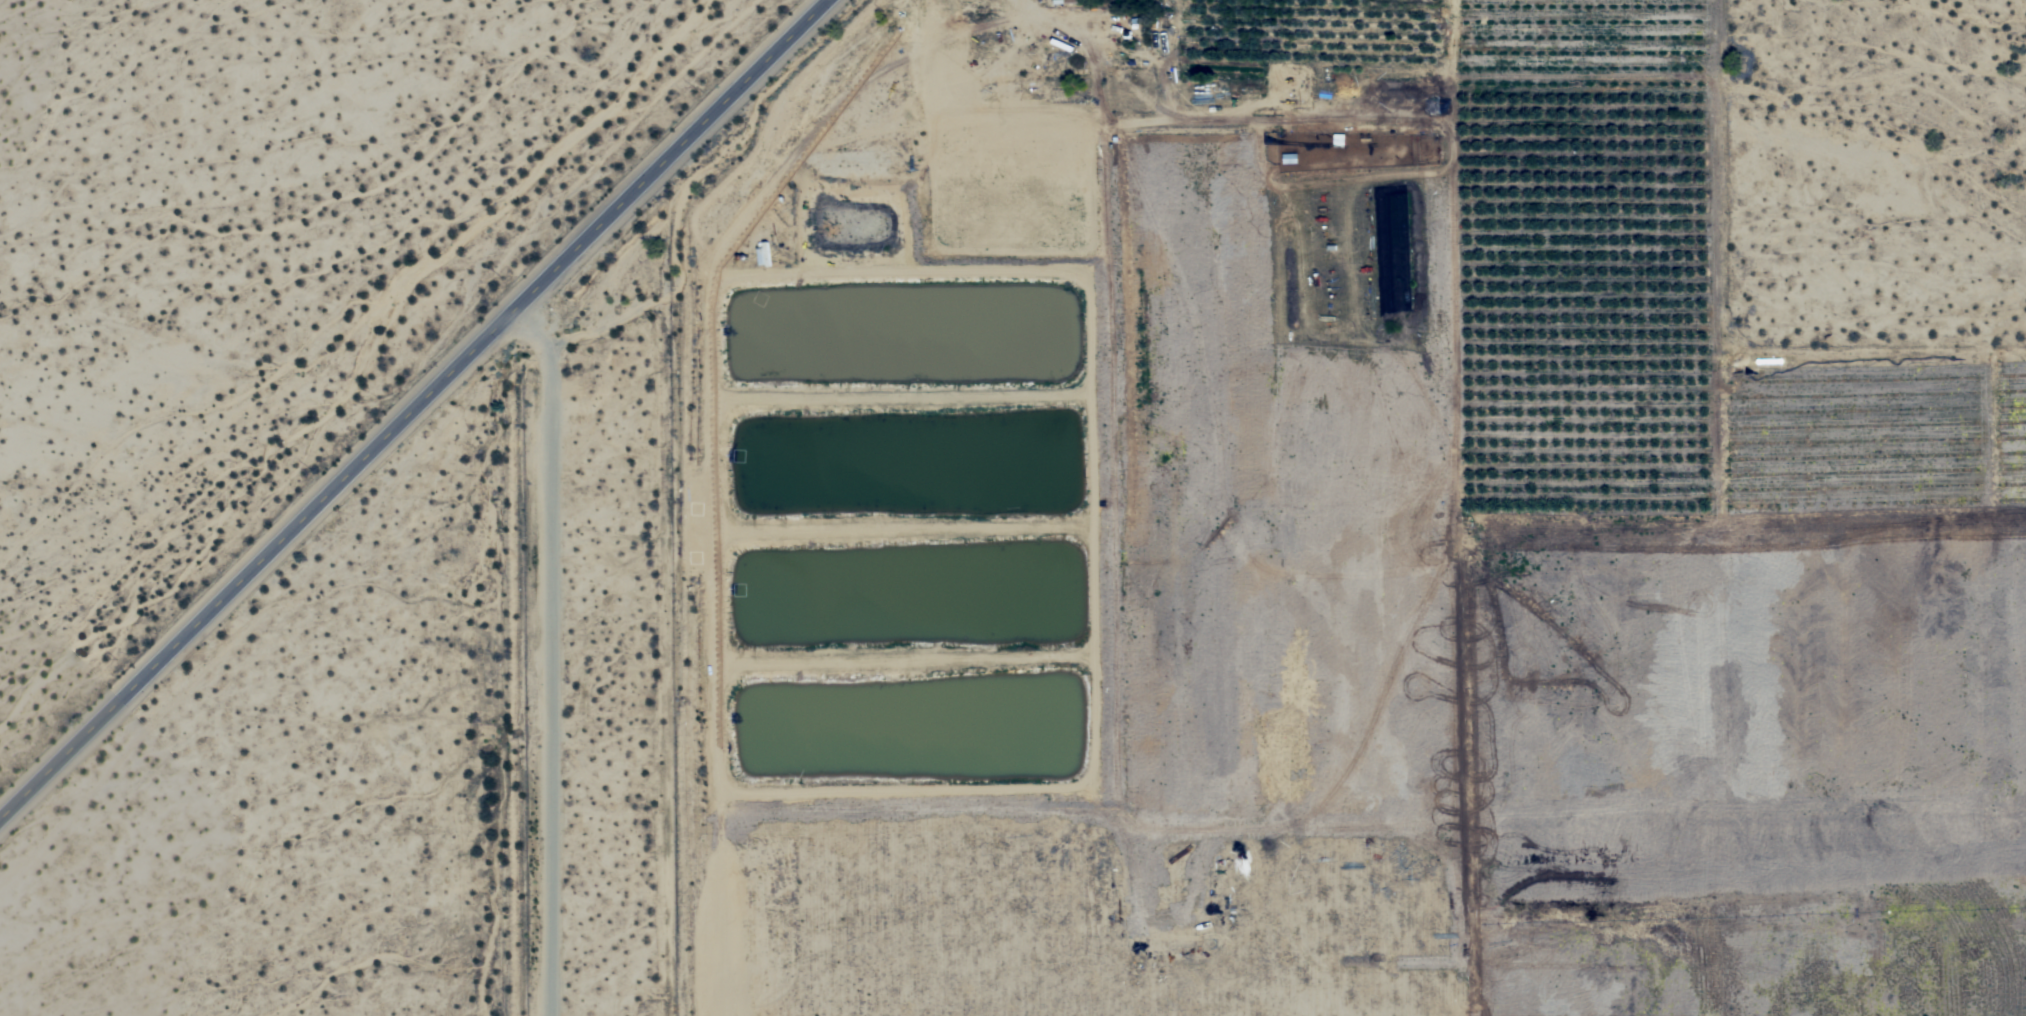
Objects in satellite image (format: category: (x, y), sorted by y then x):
building: (1112, 24)
building: (1339, 140)
road: (413, 408)

